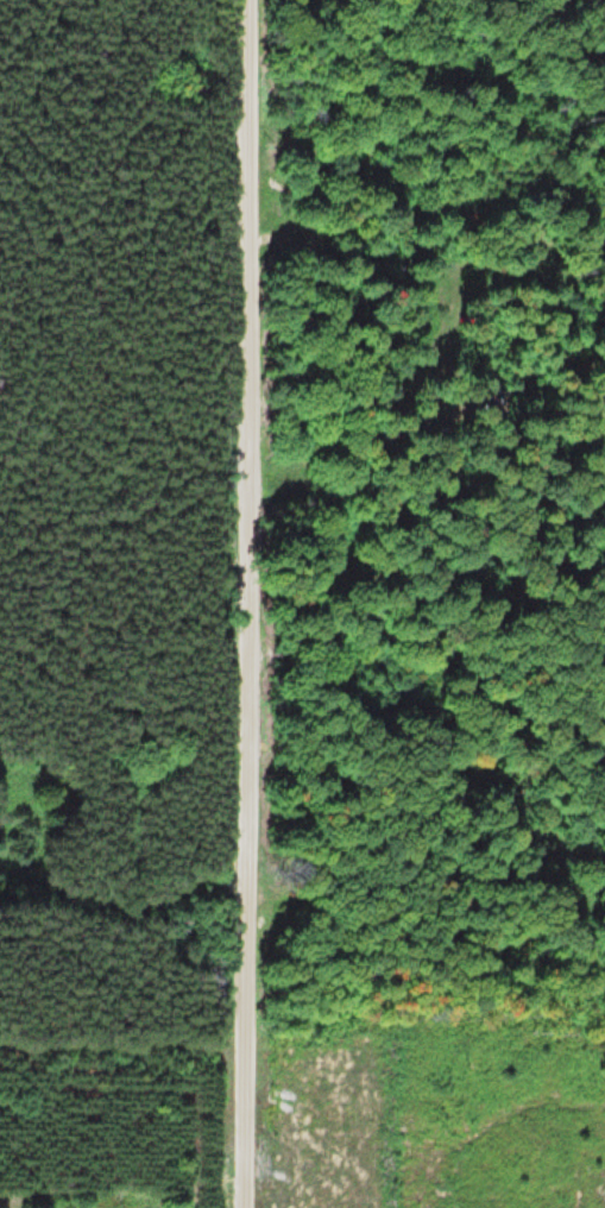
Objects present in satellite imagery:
road: (245, 604)

